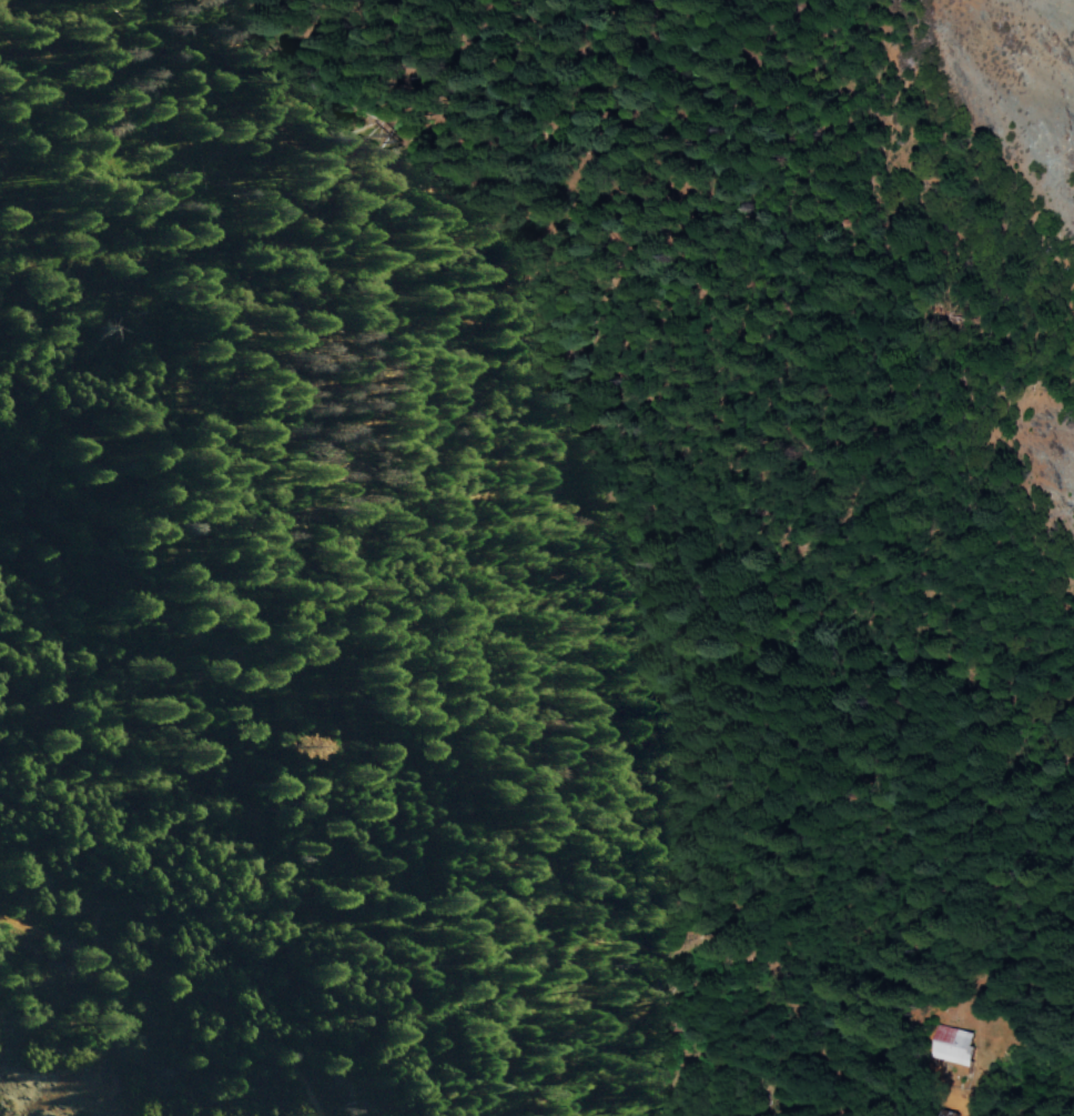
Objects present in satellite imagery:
road: (751, 938)
road: (182, 989)
building: (951, 1045)

